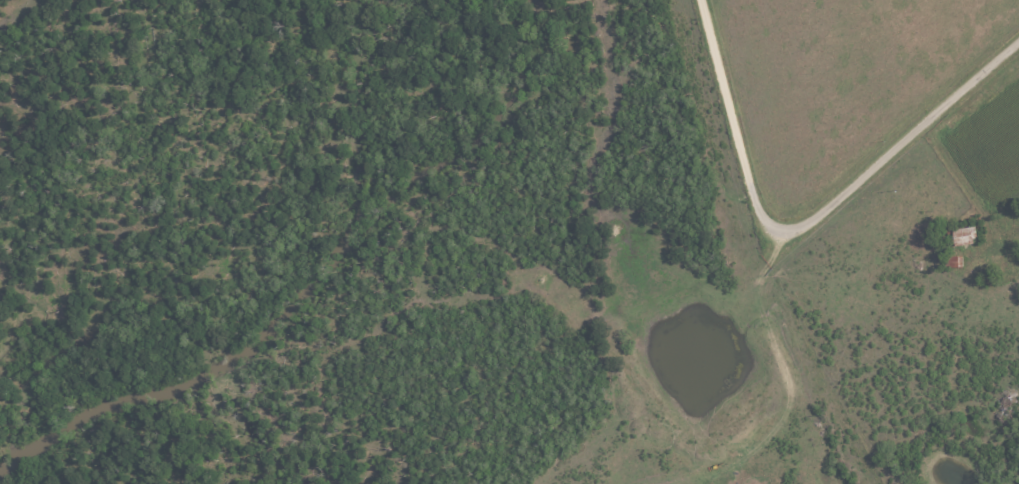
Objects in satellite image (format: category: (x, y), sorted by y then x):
road: (808, 224)
road: (796, 366)

